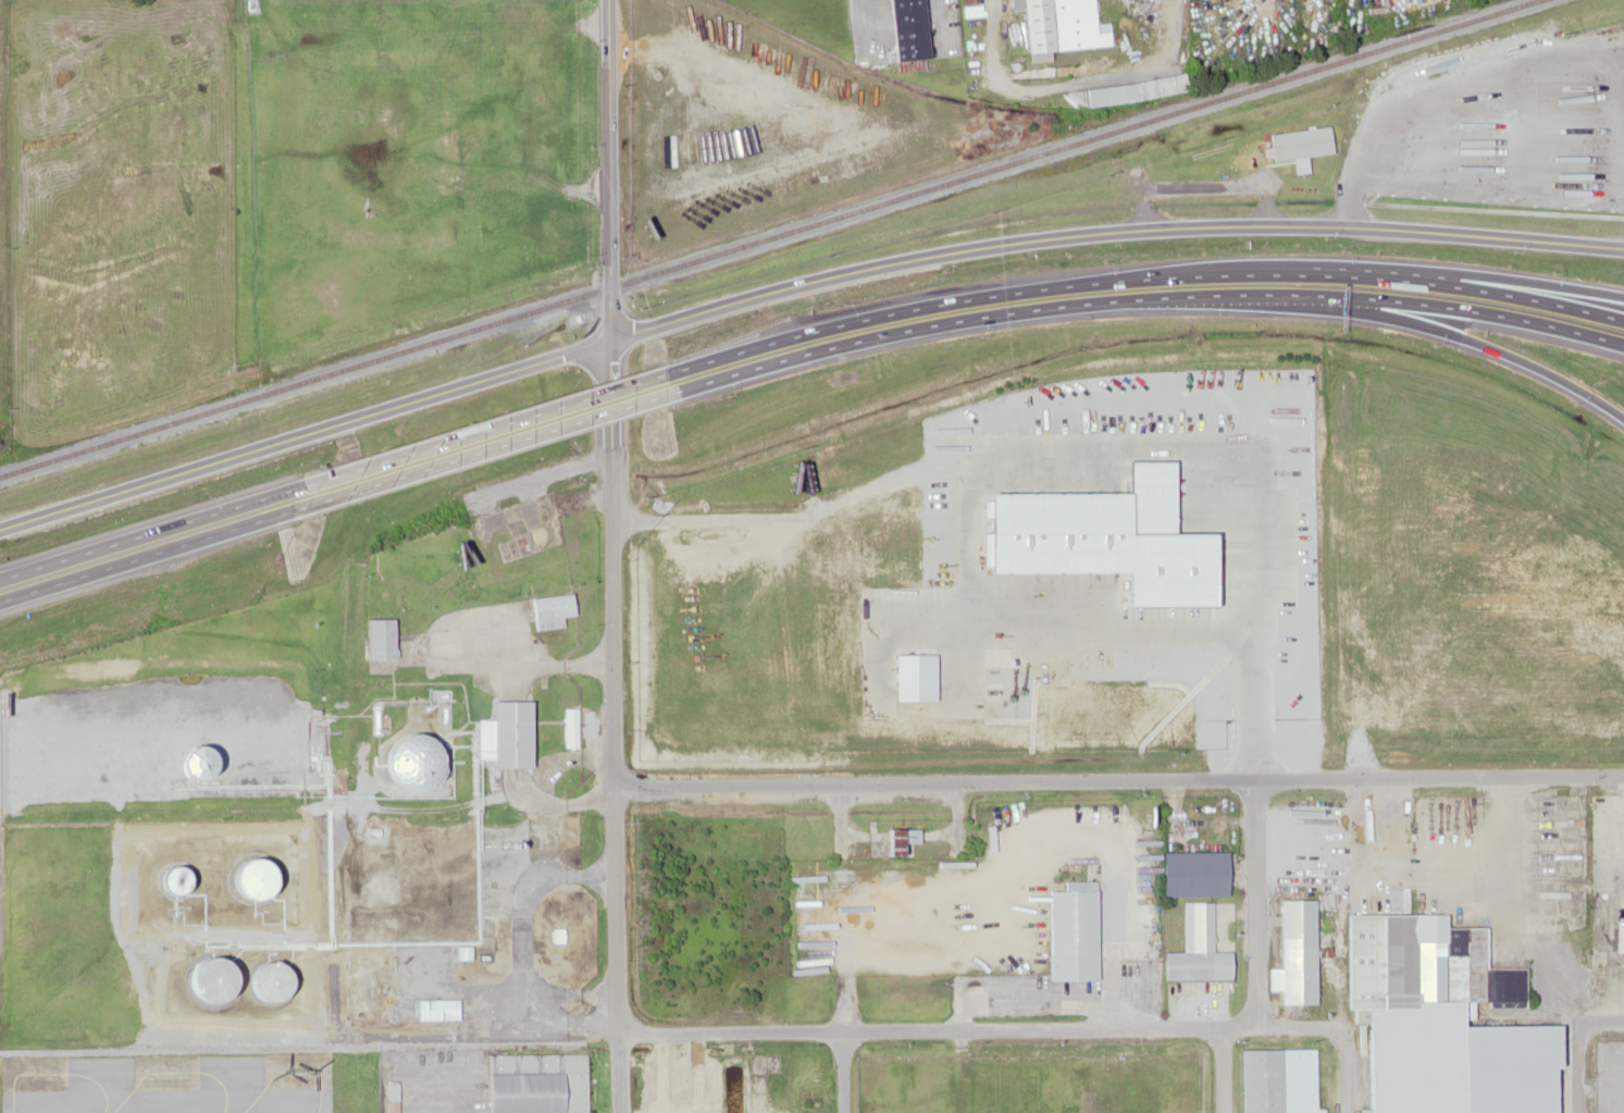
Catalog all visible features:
building: (1059, 25)
building: (906, 28)
building: (1130, 89)
building: (1300, 143)
road: (610, 169)
railway: (763, 235)
road: (1463, 271)
road: (1141, 277)
road: (796, 284)
road: (1477, 309)
road: (997, 312)
road: (1482, 344)
building: (550, 411)
road: (481, 429)
road: (479, 447)
road: (956, 470)
building: (290, 487)
road: (157, 530)
road: (153, 552)
road: (8, 577)
building: (1204, 584)
road: (11, 597)
building: (550, 608)
building: (379, 638)
road: (616, 724)
building: (506, 733)
building: (418, 759)
building: (204, 760)
road: (1119, 779)
building: (898, 840)
building: (1191, 873)
building: (258, 878)
building: (177, 879)
road: (1255, 903)
building: (1070, 931)
road: (1355, 944)
building: (1191, 945)
road: (843, 948)
building: (1293, 952)
building: (215, 977)
building: (274, 980)
building: (434, 1009)
building: (1438, 1021)
road: (1121, 1028)
road: (1576, 1067)
airport: (300, 1071)
road: (1225, 1071)
building: (1276, 1080)
building: (533, 1083)
road: (620, 1112)

